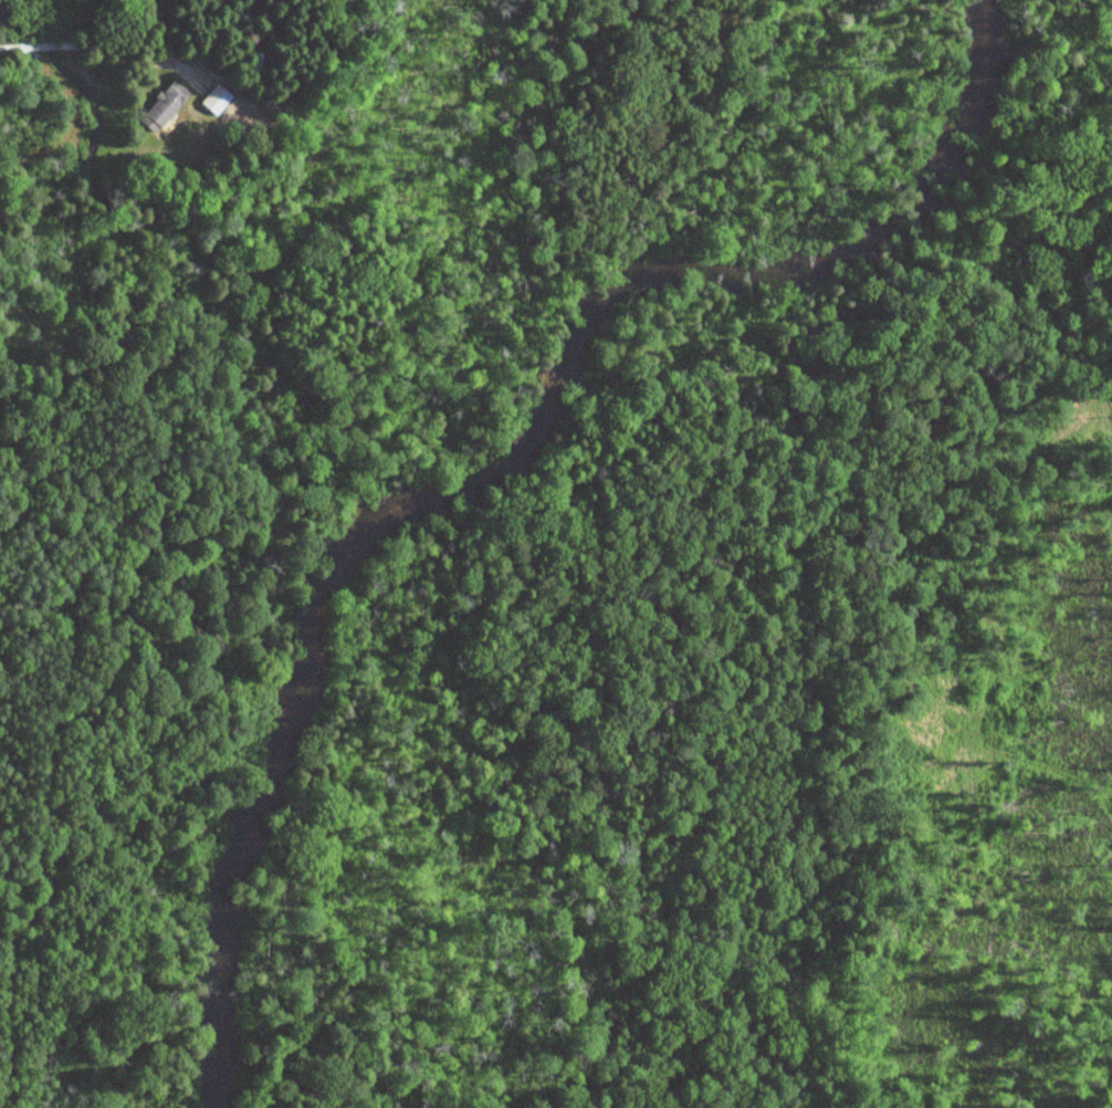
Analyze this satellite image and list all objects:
road: (149, 71)
building: (213, 100)
building: (167, 105)
river: (505, 467)

